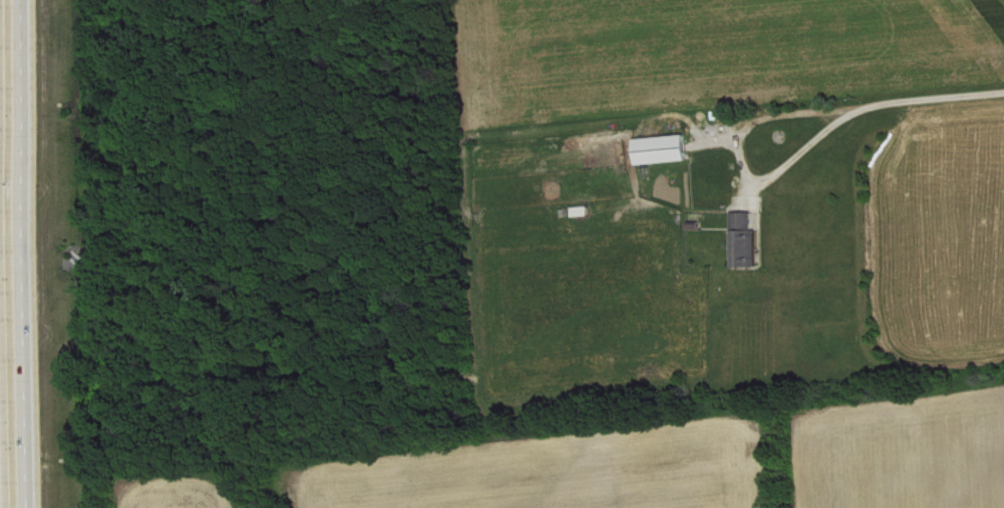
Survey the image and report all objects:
road: (870, 110)
building: (667, 151)
building: (749, 241)
road: (24, 254)
road: (0, 466)

